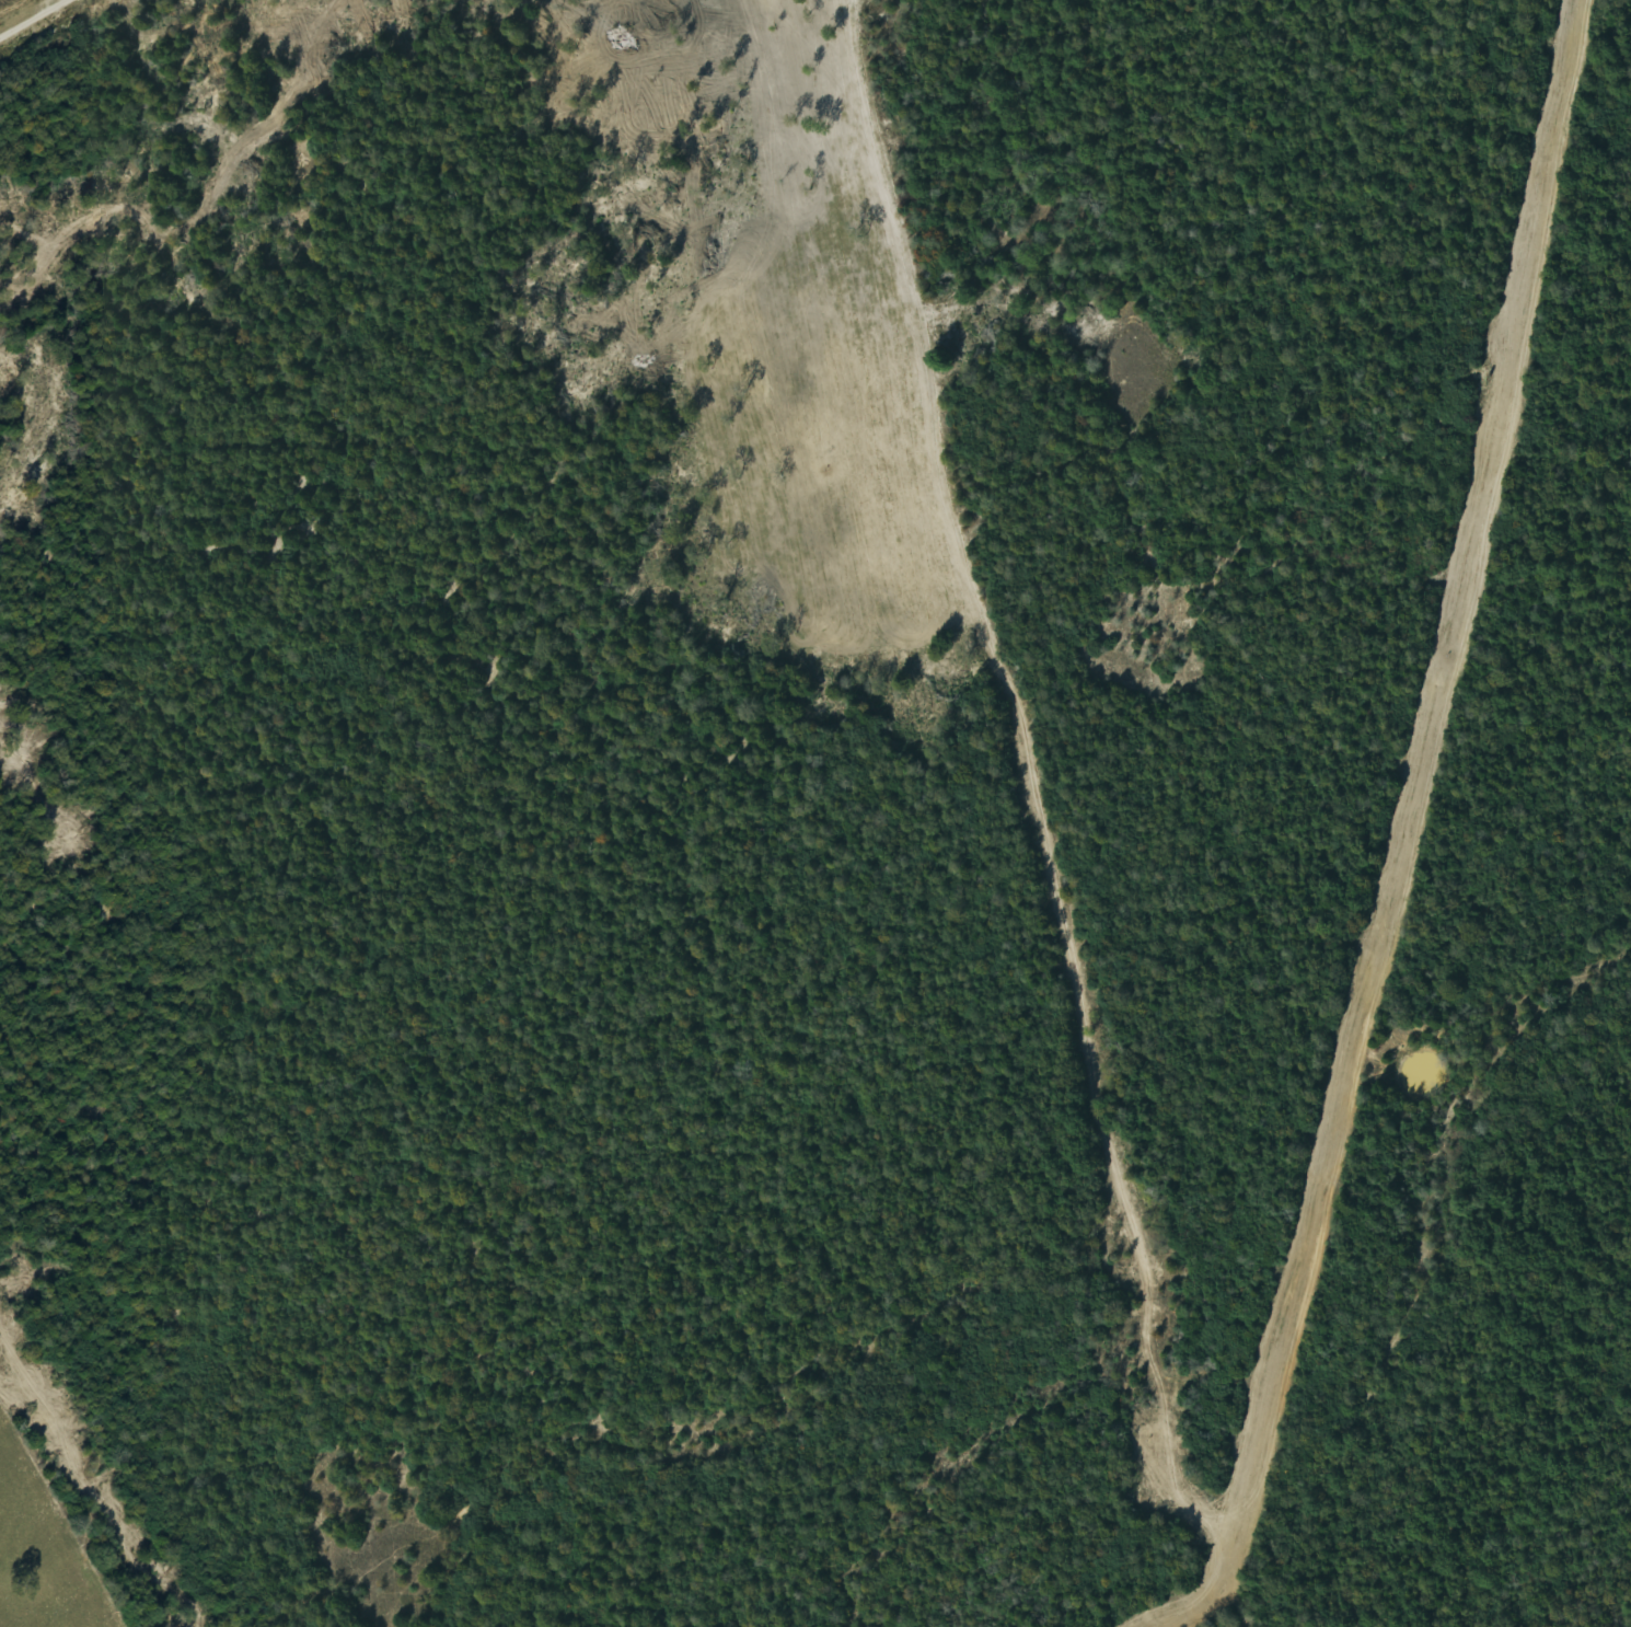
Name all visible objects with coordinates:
road: (33, 20)

